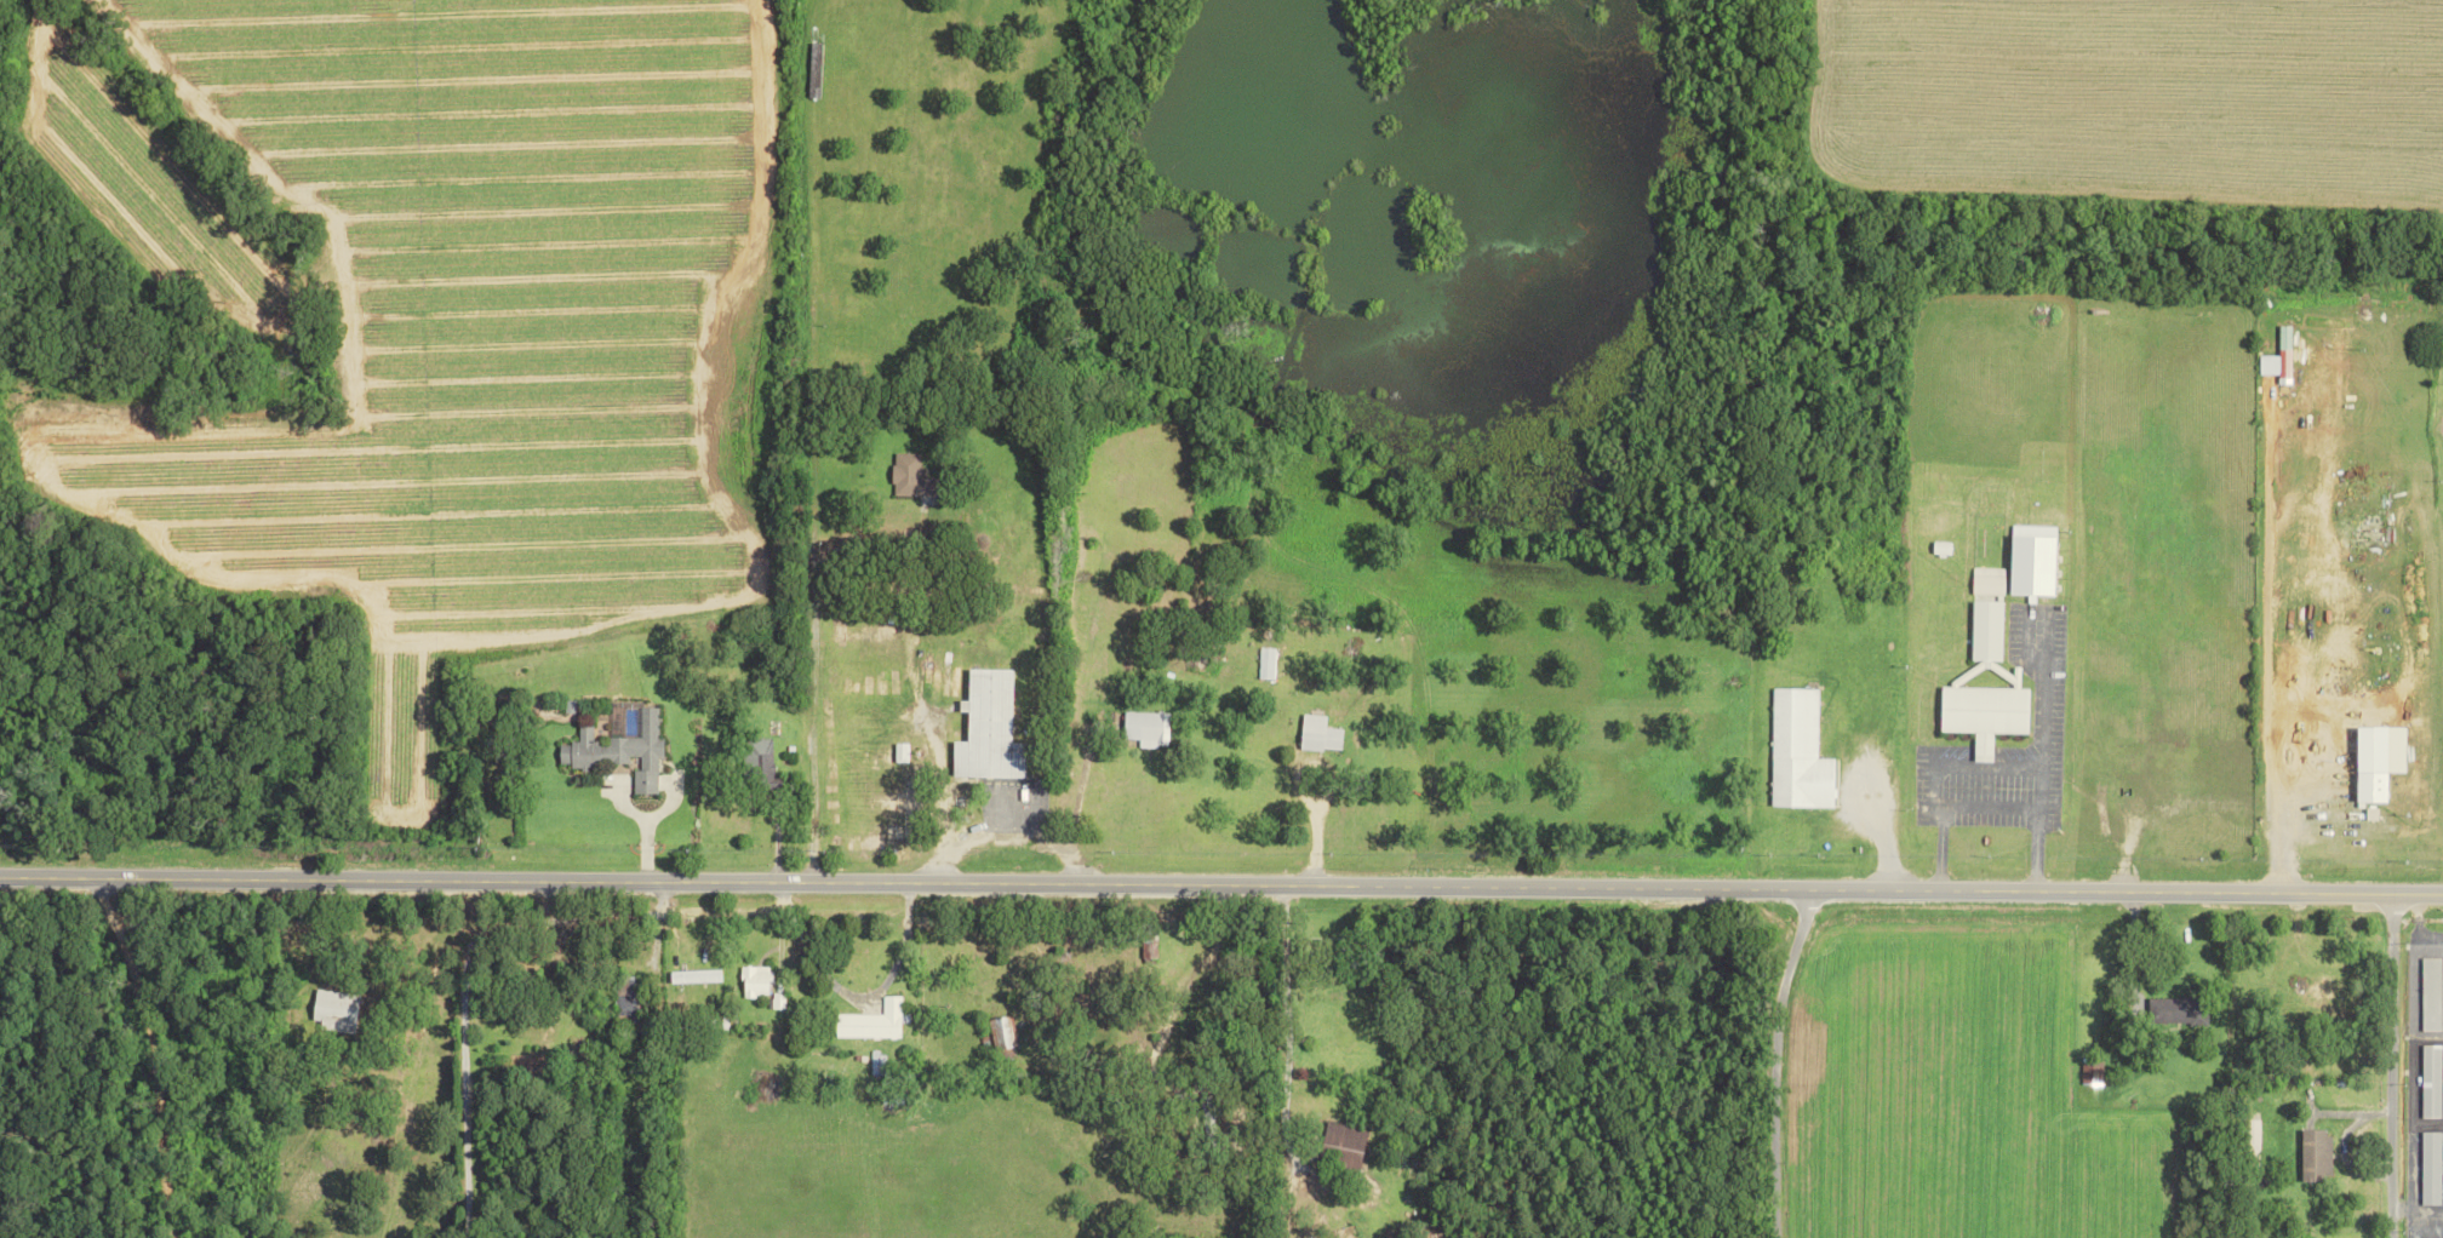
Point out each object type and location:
building: (2285, 362)
building: (910, 476)
building: (1943, 548)
building: (2033, 562)
building: (1989, 580)
building: (1987, 630)
building: (1985, 709)
building: (1148, 727)
building: (989, 728)
road: (811, 732)
building: (1320, 733)
building: (619, 750)
building: (900, 751)
building: (1798, 751)
building: (761, 758)
building: (2374, 763)
road: (1077, 787)
road: (1981, 803)
road: (1003, 816)
road: (2279, 819)
building: (869, 841)
road: (636, 844)
road: (1220, 881)
road: (465, 972)
building: (694, 976)
building: (755, 980)
building: (2431, 993)
road: (854, 996)
building: (334, 1007)
building: (2179, 1010)
building: (872, 1021)
building: (1002, 1032)
road: (1278, 1042)
road: (151, 1053)
road: (1768, 1059)
road: (2382, 1062)
building: (2431, 1081)
building: (1346, 1139)
building: (2317, 1154)
building: (2431, 1168)

